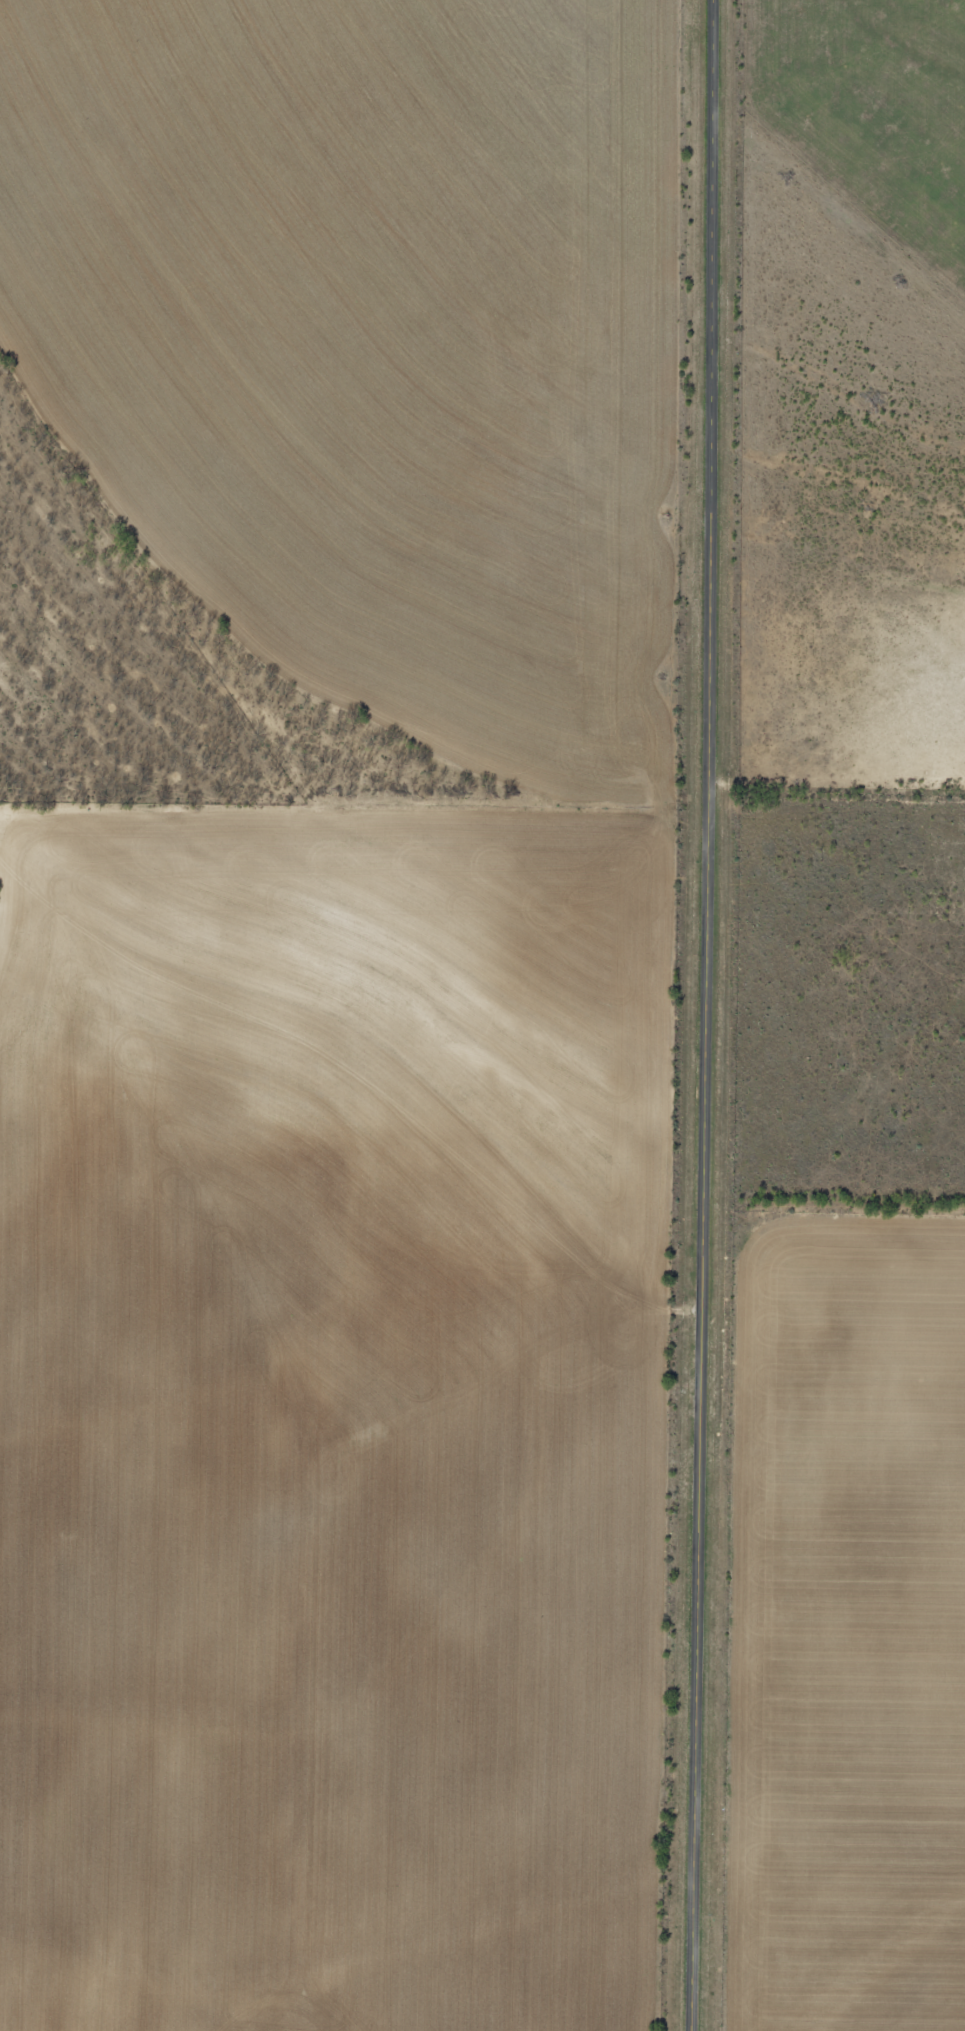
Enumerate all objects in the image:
road: (836, 807)
road: (704, 1015)

